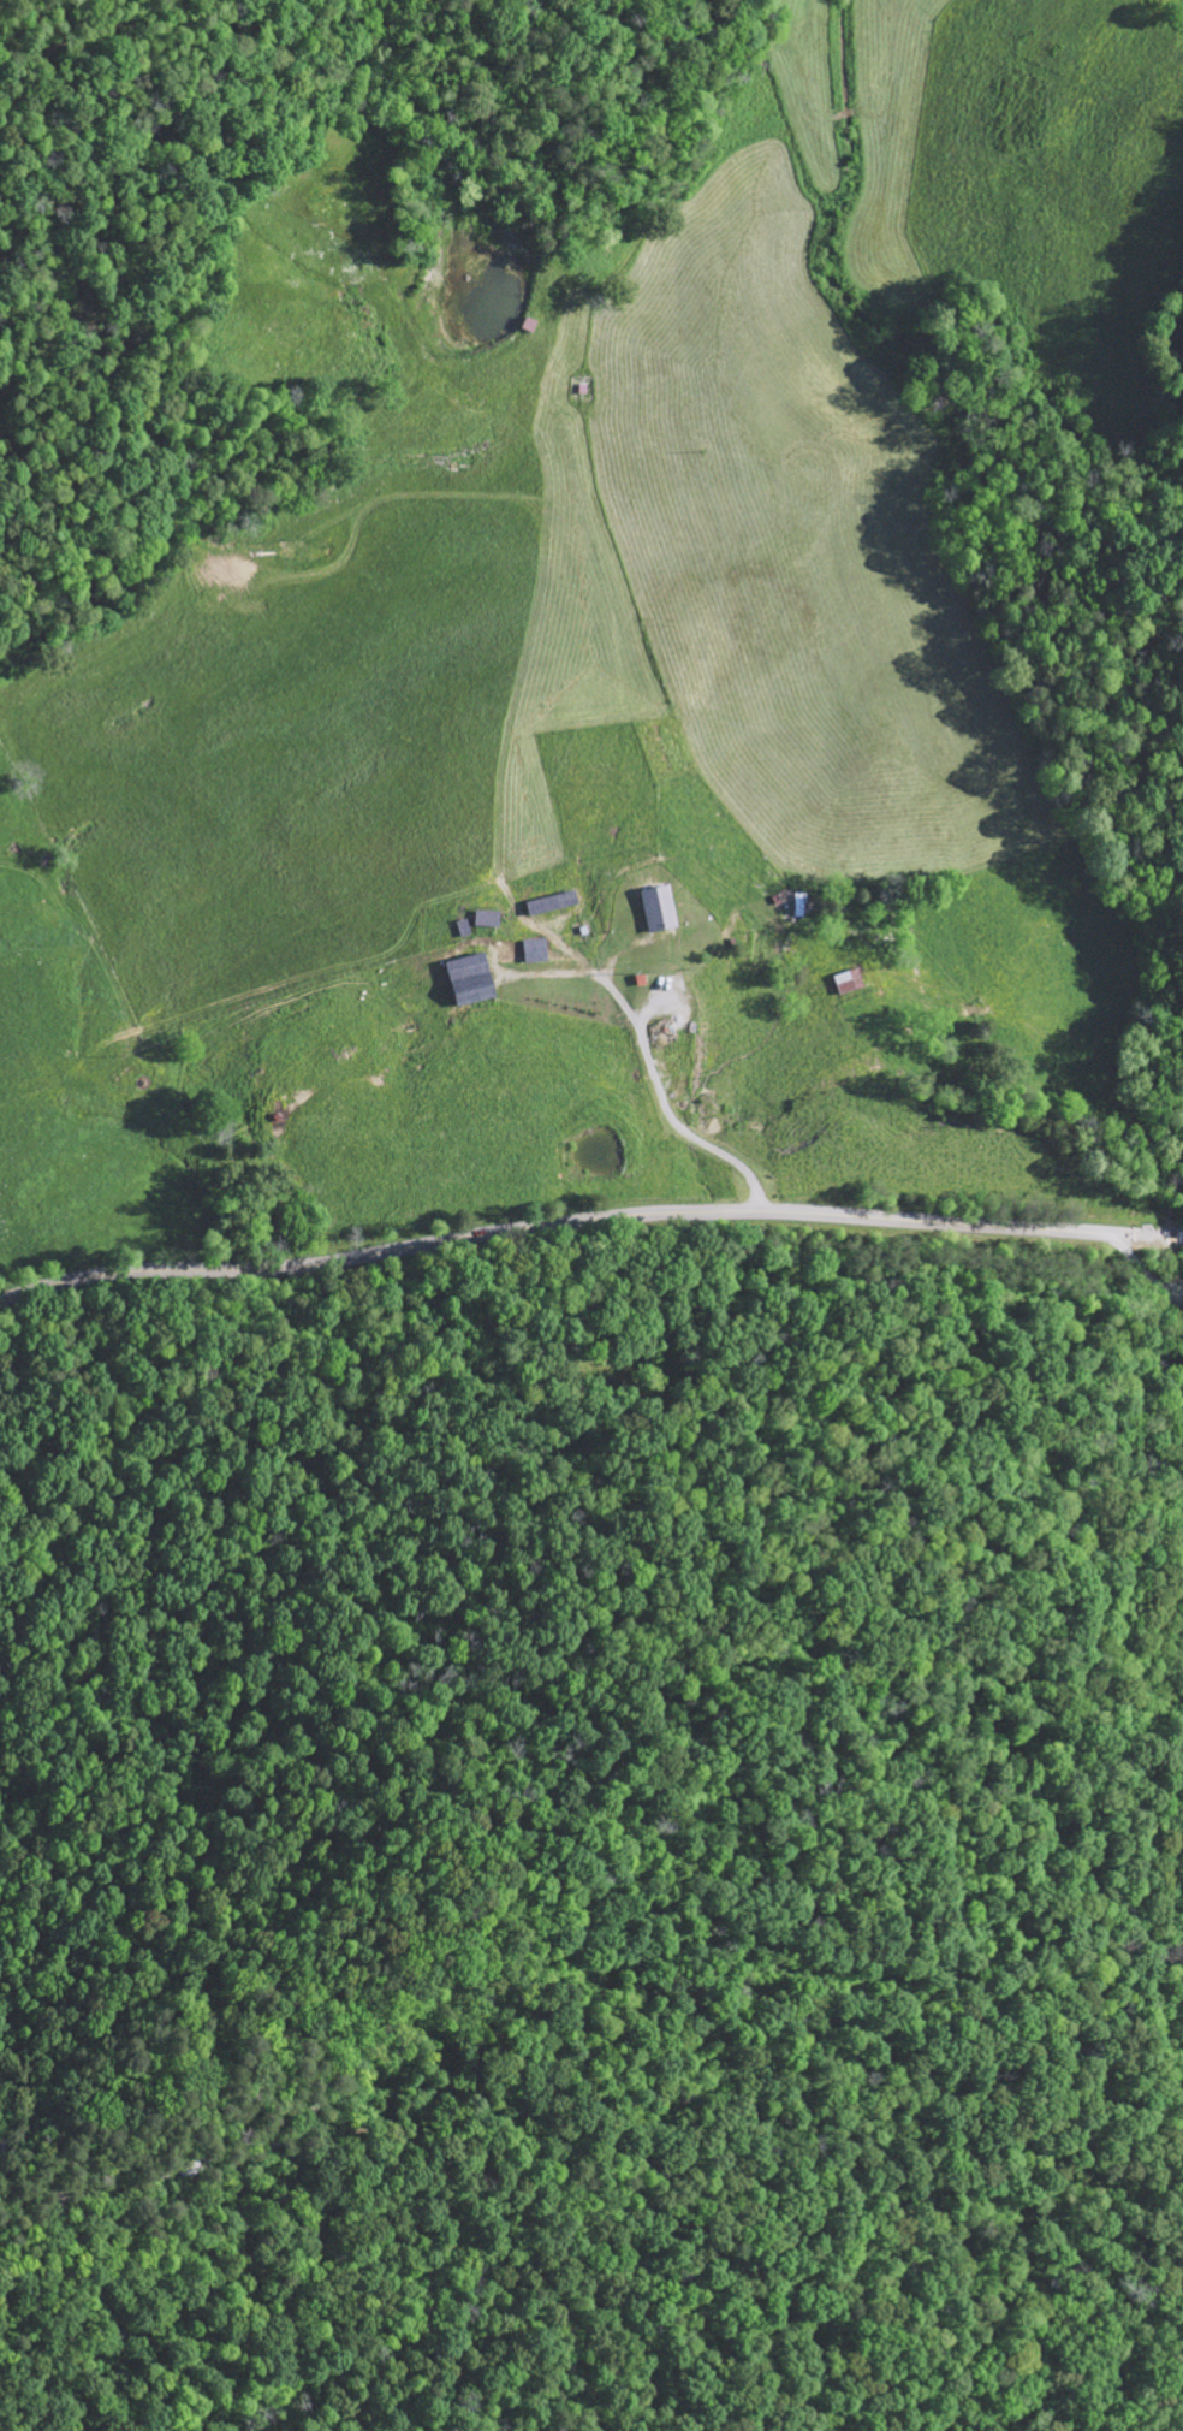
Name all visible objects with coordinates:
building: (799, 905)
building: (659, 909)
building: (487, 919)
building: (536, 950)
building: (471, 980)
road: (667, 1102)
road: (578, 1222)
road: (1172, 1238)
road: (1181, 1239)
road: (1158, 1423)

